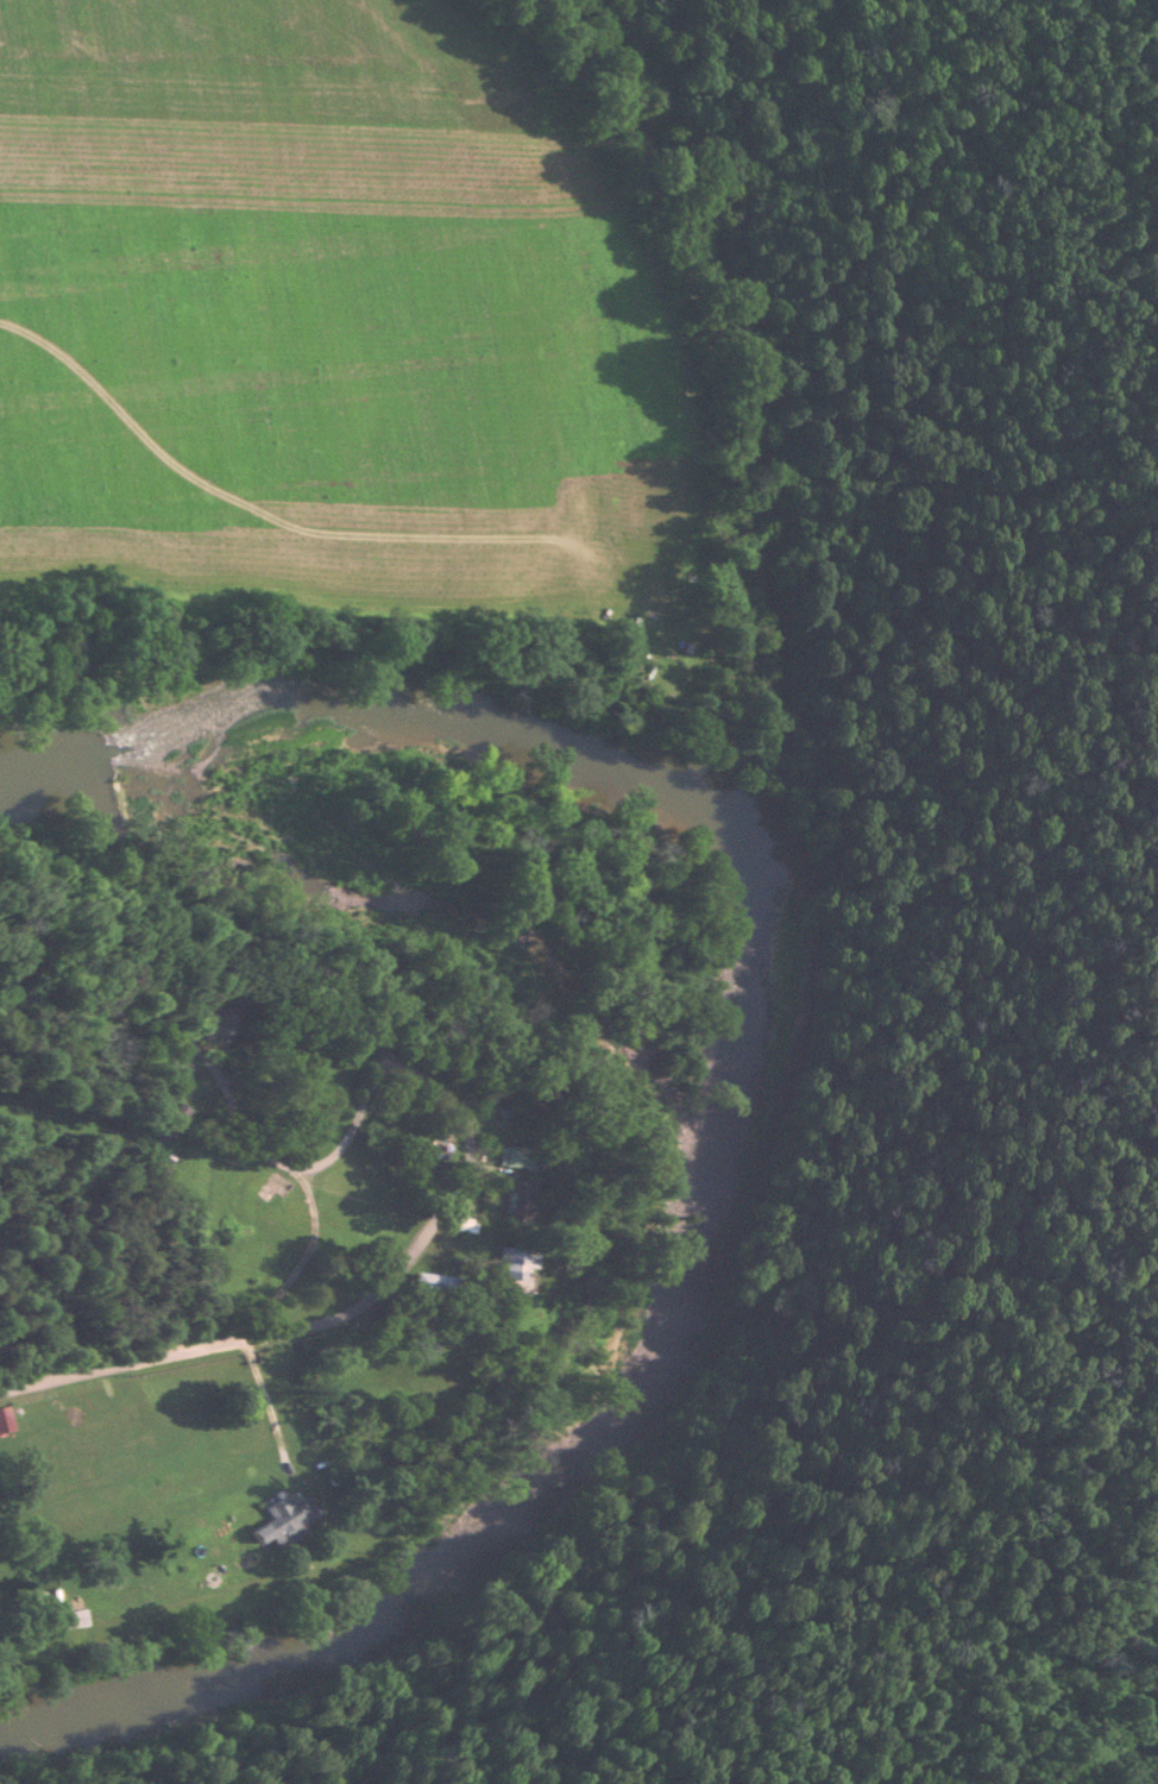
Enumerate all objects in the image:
road: (220, 1078)
building: (165, 1120)
river: (756, 1126)
building: (517, 1202)
building: (509, 1262)
building: (432, 1283)
road: (325, 1318)
road: (273, 1405)
building: (4, 1424)
building: (282, 1519)
building: (62, 1612)

